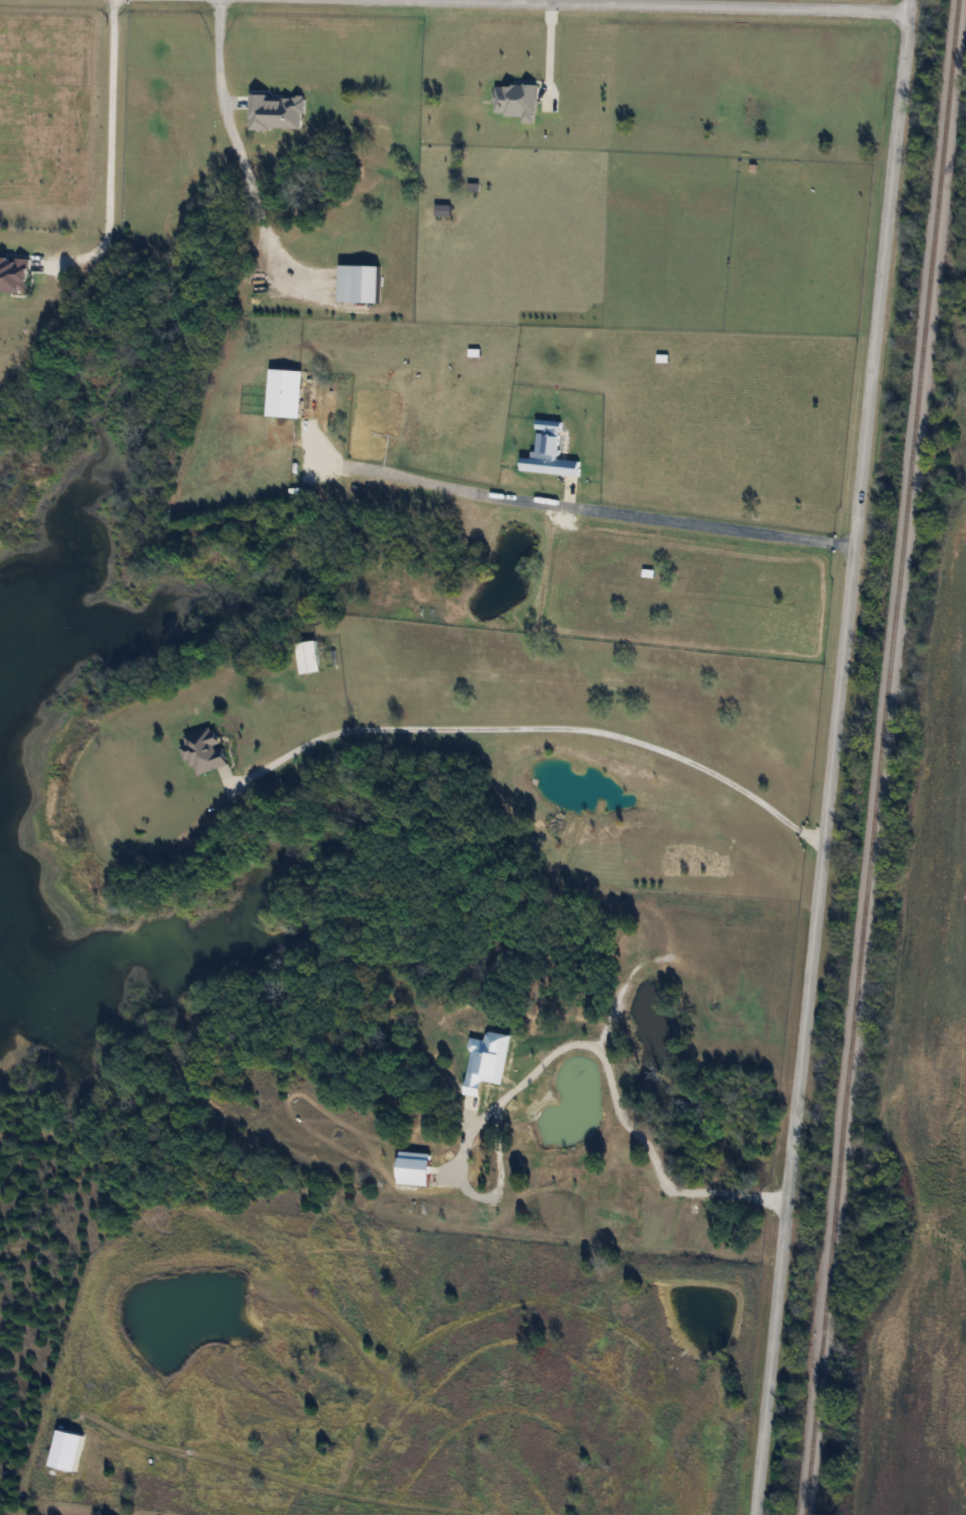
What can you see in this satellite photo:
road: (491, 1)
road: (655, 5)
road: (545, 53)
road: (104, 155)
road: (234, 158)
building: (296, 397)
road: (712, 526)
building: (308, 656)
road: (534, 727)
building: (205, 750)
road: (832, 757)
railway: (880, 757)
road: (567, 1051)

